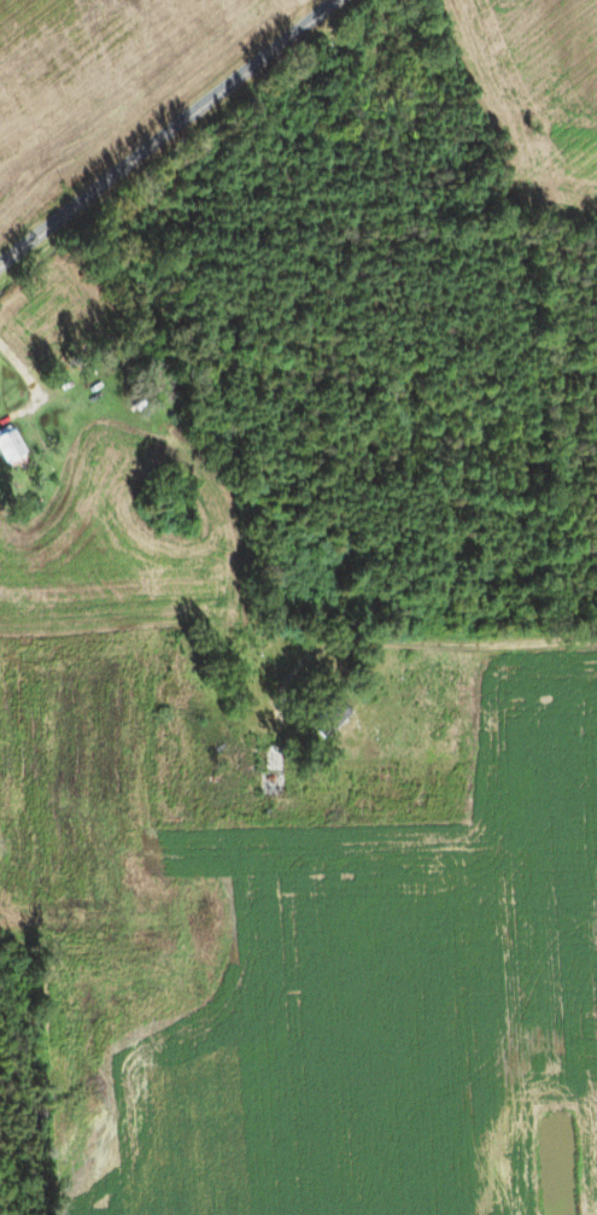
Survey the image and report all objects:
road: (166, 130)
building: (478, 160)
building: (10, 444)
building: (329, 717)
building: (271, 772)
building: (385, 793)

